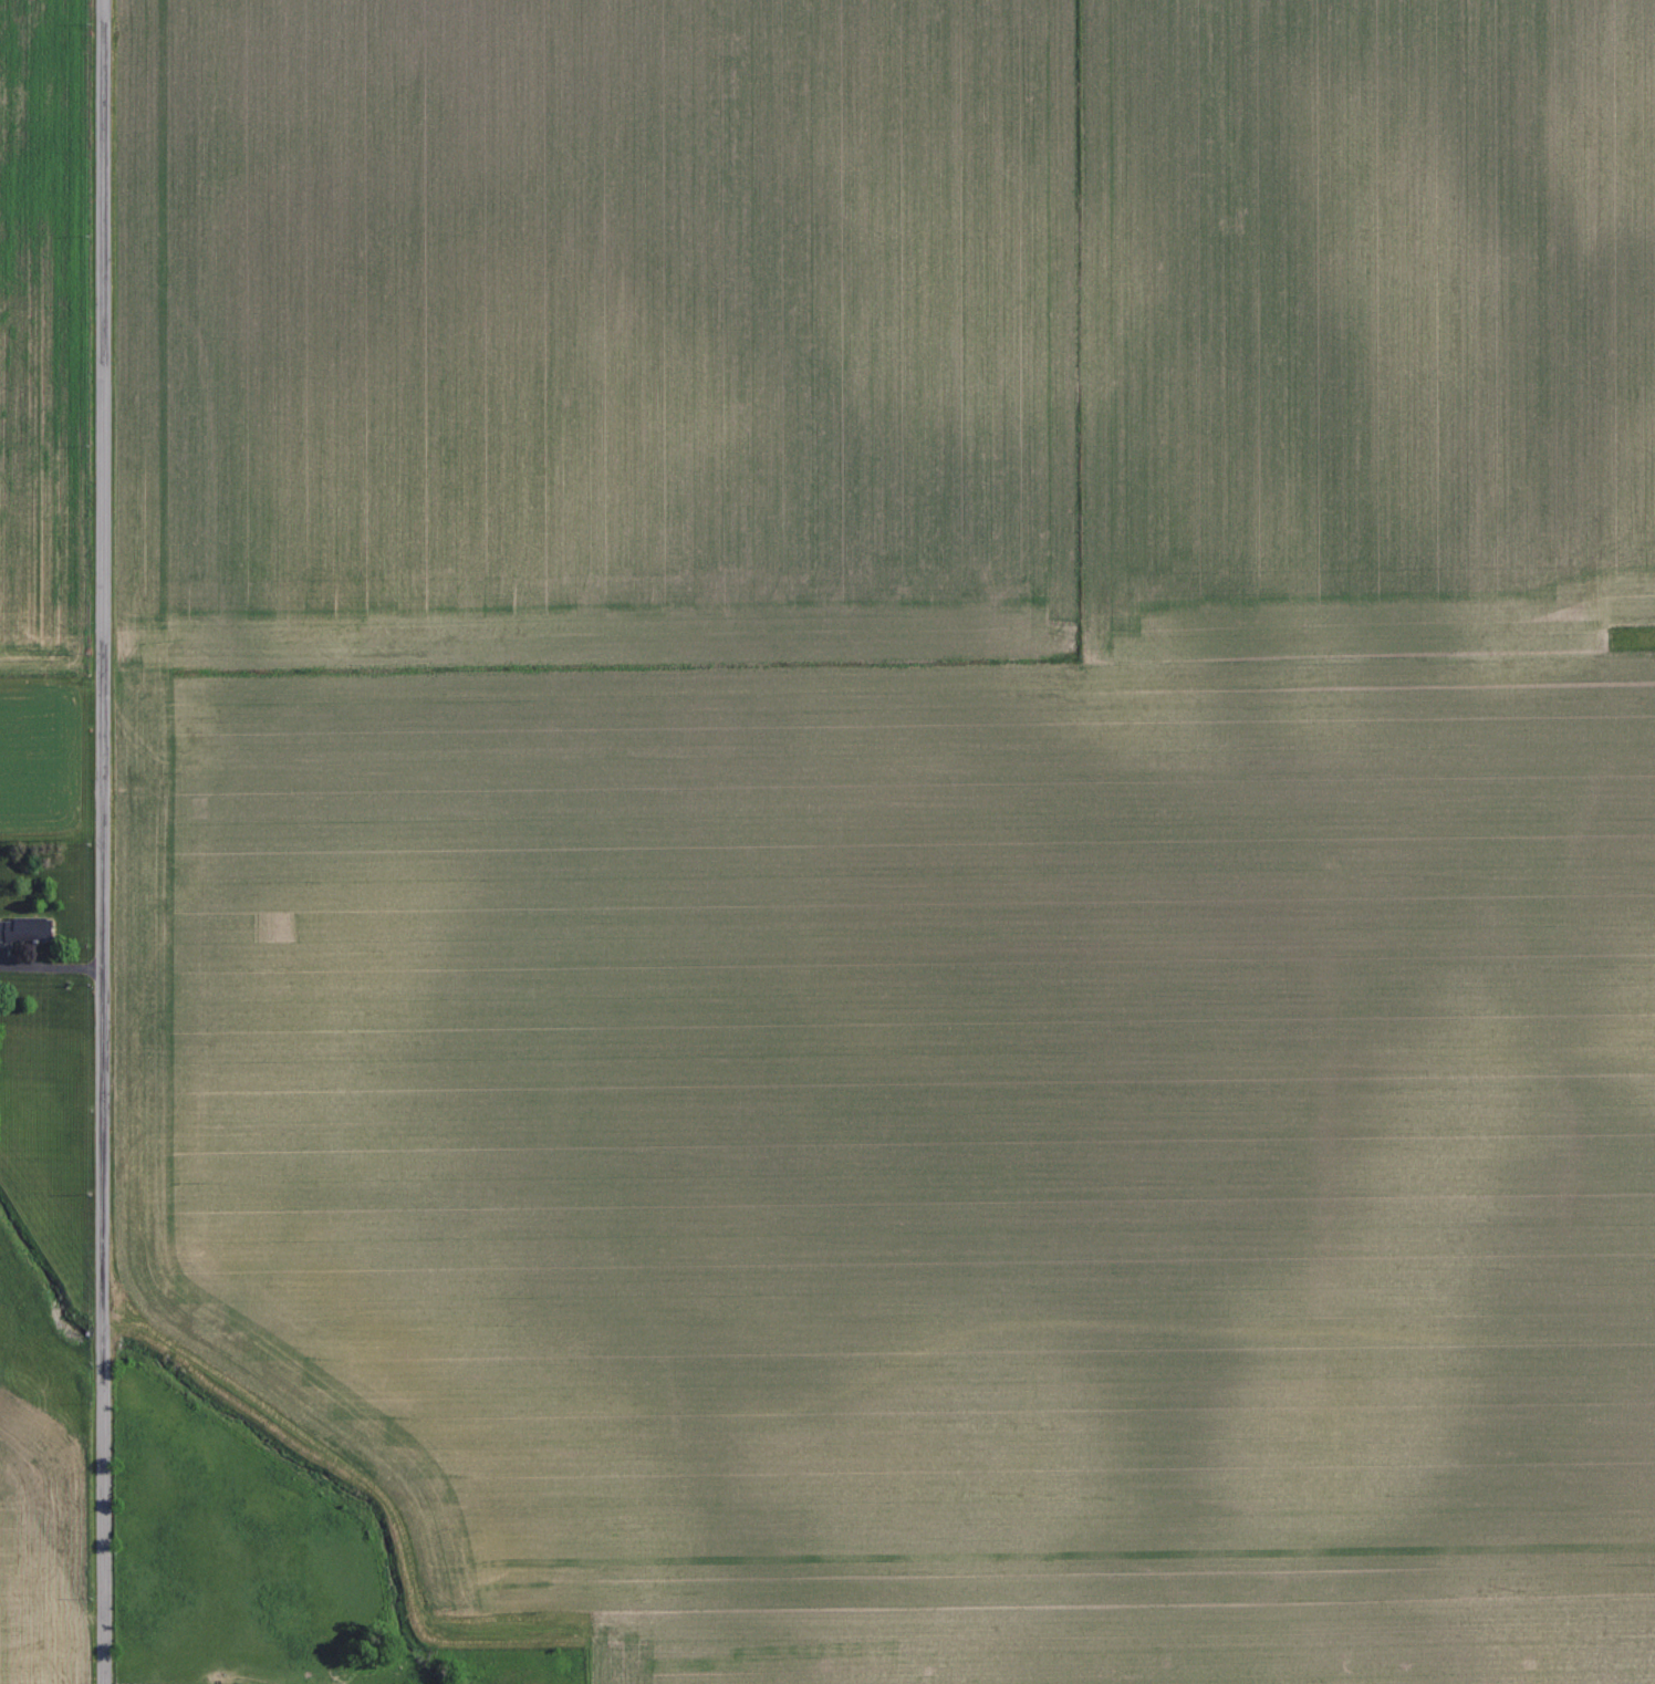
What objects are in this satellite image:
road: (102, 842)

